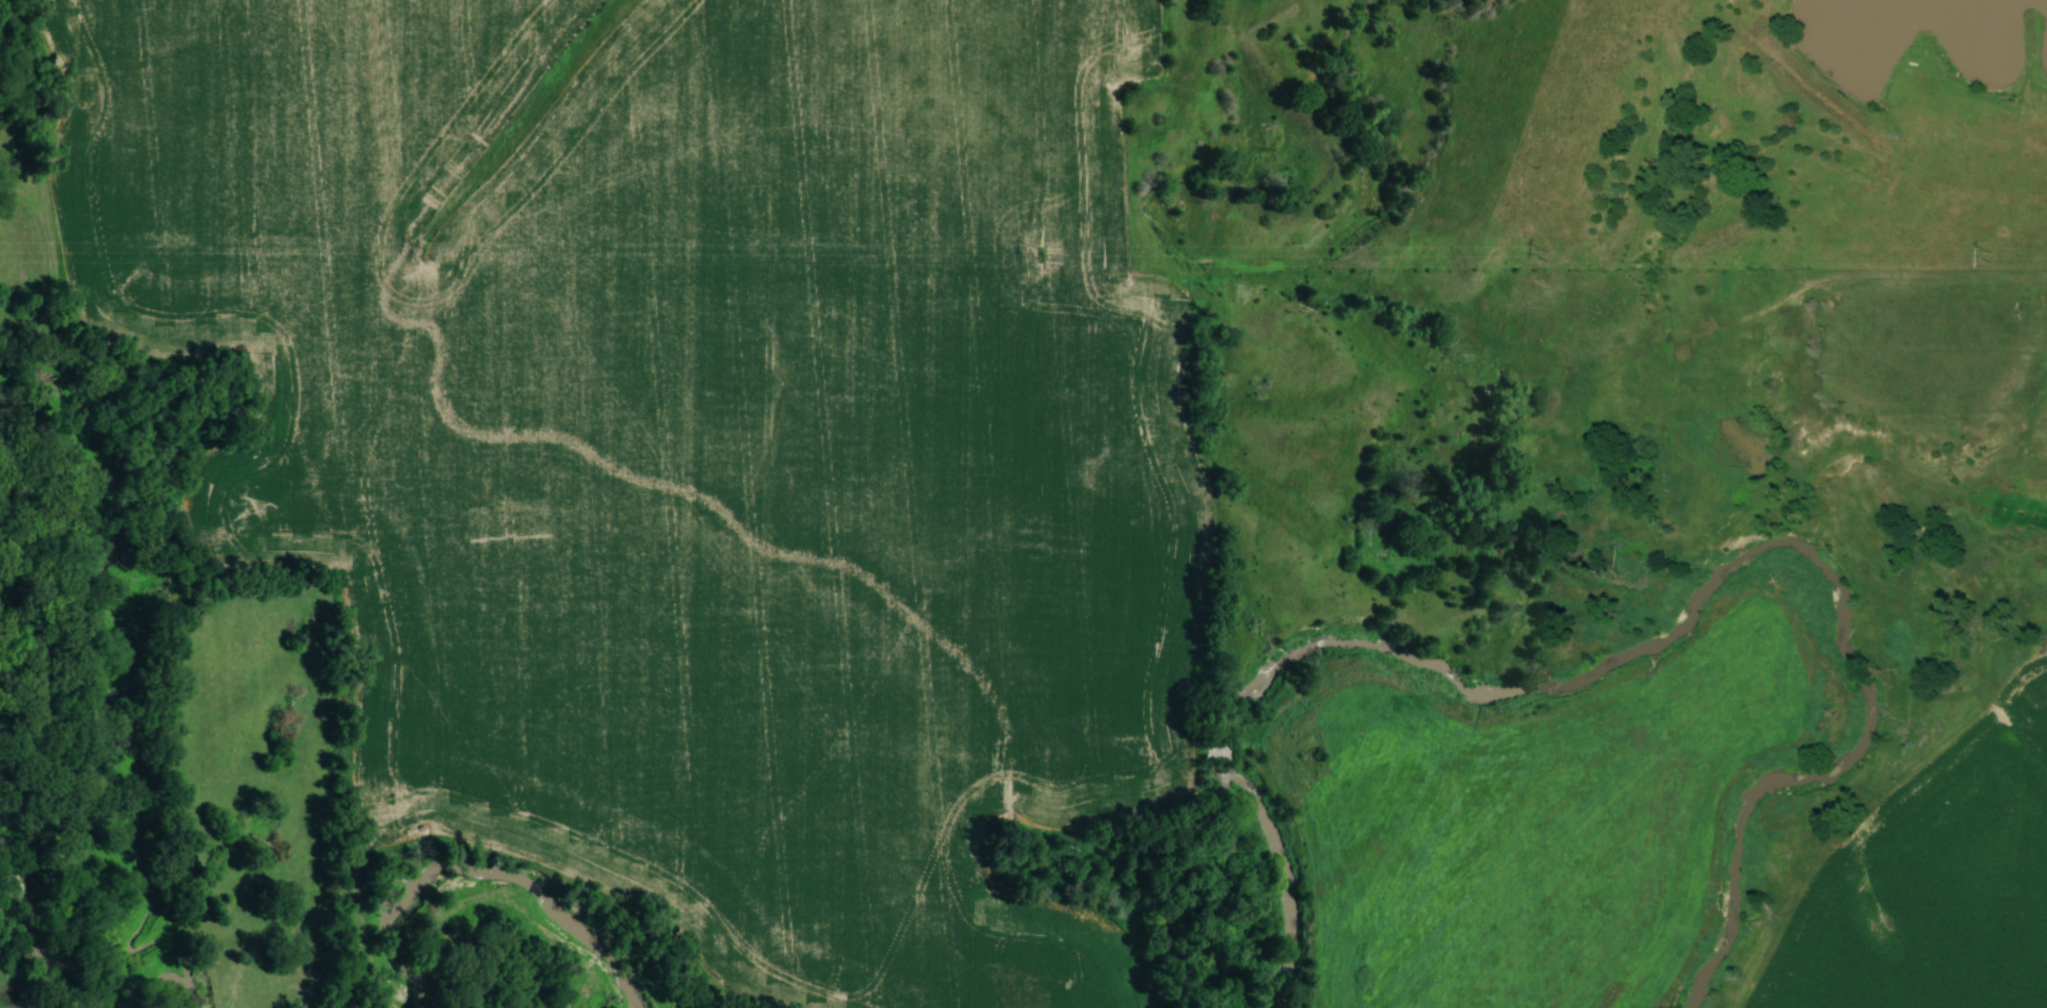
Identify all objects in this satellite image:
power tower: (423, 255)
power tower: (1041, 256)
power tower: (1549, 258)
power tower: (1990, 259)

